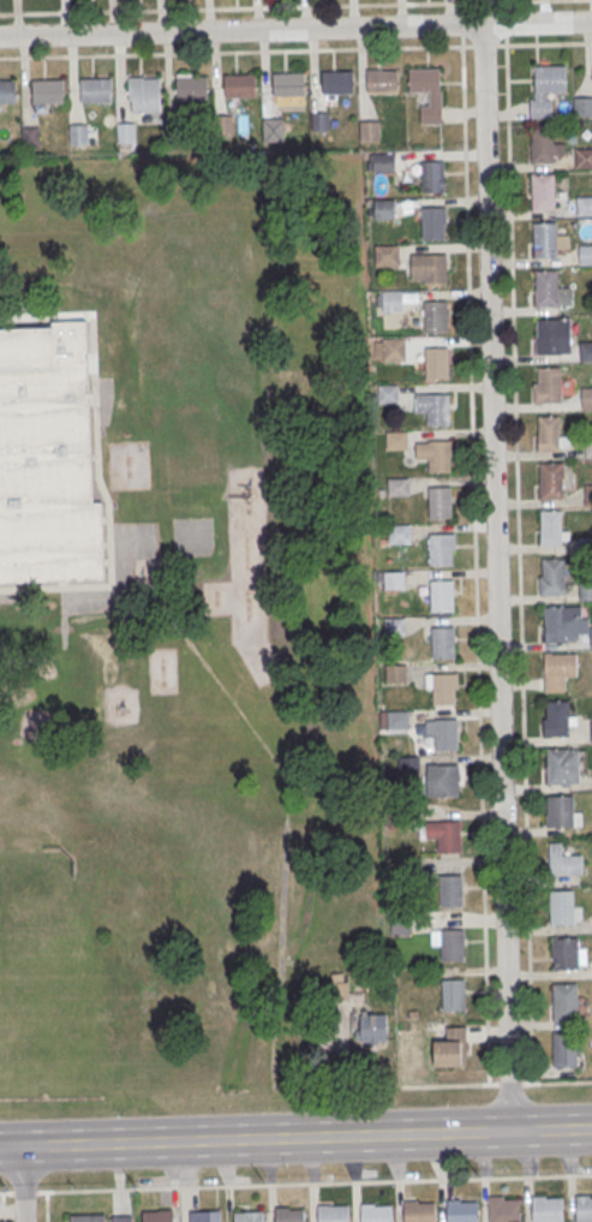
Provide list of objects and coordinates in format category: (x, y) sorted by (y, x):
road: (292, 6)
road: (295, 29)
road: (295, 50)
building: (551, 78)
building: (425, 82)
building: (383, 83)
building: (339, 84)
building: (289, 85)
building: (241, 87)
building: (193, 89)
building: (144, 90)
building: (97, 91)
building: (7, 93)
building: (48, 93)
building: (582, 106)
building: (321, 123)
building: (225, 125)
building: (274, 129)
building: (175, 132)
building: (371, 132)
building: (128, 133)
building: (80, 135)
building: (31, 138)
building: (543, 145)
building: (584, 159)
building: (385, 162)
building: (432, 175)
building: (544, 193)
building: (584, 207)
building: (385, 210)
building: (433, 221)
building: (545, 242)
building: (388, 256)
building: (585, 256)
building: (429, 267)
building: (550, 291)
building: (394, 303)
building: (436, 316)
building: (555, 339)
building: (395, 351)
building: (586, 352)
building: (437, 362)
building: (550, 386)
building: (388, 394)
building: (587, 399)
building: (437, 407)
building: (550, 435)
building: (397, 442)
building: (588, 447)
building: (47, 455)
building: (438, 455)
building: (551, 482)
building: (399, 488)
building: (588, 496)
building: (439, 501)
building: (550, 525)
building: (400, 535)
building: (586, 546)
building: (441, 548)
road: (474, 558)
road: (519, 564)
building: (551, 576)
road: (495, 578)
building: (395, 582)
building: (441, 595)
building: (555, 624)
building: (396, 627)
building: (591, 639)
building: (442, 642)
building: (558, 669)
building: (396, 674)
building: (443, 686)
building: (557, 717)
building: (399, 721)
building: (444, 733)
building: (409, 765)
building: (562, 765)
building: (444, 781)
building: (561, 812)
building: (402, 818)
building: (448, 836)
building: (562, 860)
building: (412, 868)
building: (452, 892)
building: (560, 906)
building: (402, 924)
building: (452, 943)
building: (564, 952)
building: (340, 991)
building: (454, 994)
building: (566, 1000)
building: (371, 1027)
building: (452, 1048)
building: (563, 1048)
road: (483, 1083)
road: (295, 1138)
road: (23, 1184)
road: (305, 1185)
road: (5, 1192)
road: (2, 1206)
building: (584, 1208)
building: (546, 1209)
building: (460, 1210)
building: (504, 1210)
building: (418, 1211)
building: (373, 1212)
building: (330, 1214)
building: (157, 1215)
building: (204, 1215)
building: (288, 1215)
building: (249, 1216)
building: (86, 1217)
building: (121, 1217)

